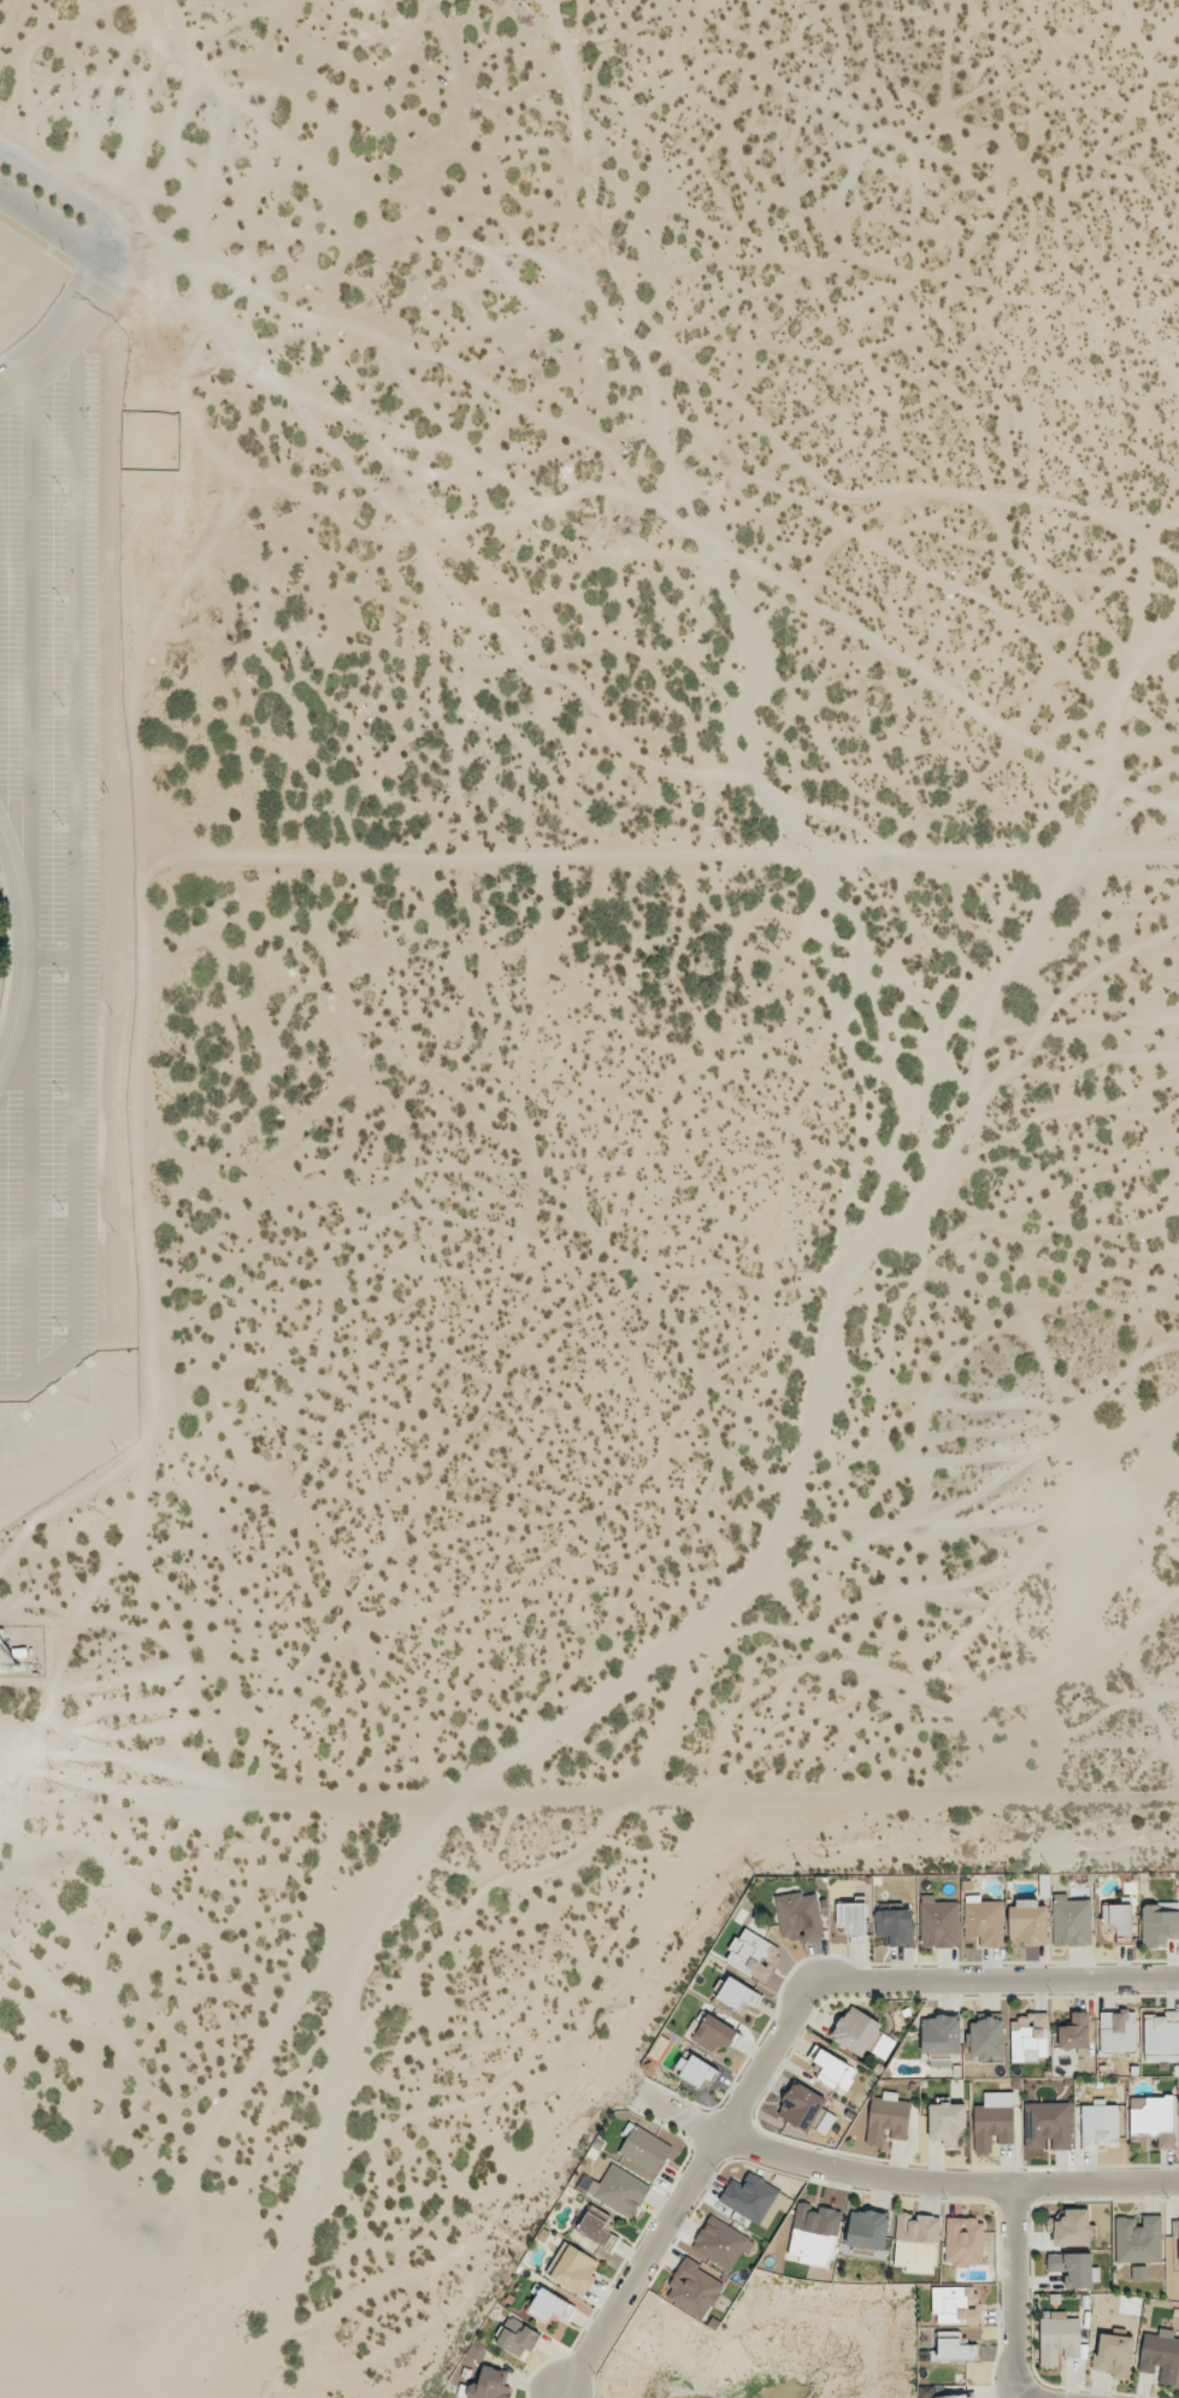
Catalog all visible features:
road: (107, 226)
road: (67, 324)
road: (29, 632)
parking lot: (51, 877)
road: (73, 882)
road: (22, 944)
road: (47, 956)
road: (29, 1200)
building: (798, 1916)
building: (1118, 1917)
building: (851, 1920)
building: (983, 1921)
building: (1027, 1921)
building: (1071, 1921)
building: (938, 1922)
building: (894, 1926)
building: (1159, 1926)
building: (753, 1954)
building: (737, 1996)
road: (783, 2031)
building: (855, 2031)
building: (1118, 2031)
building: (1074, 2032)
building: (714, 2033)
building: (941, 2034)
building: (1028, 2037)
building: (1161, 2037)
building: (986, 2038)
building: (883, 2046)
building: (695, 2069)
building: (835, 2070)
building: (801, 2107)
building: (888, 2117)
building: (1154, 2119)
building: (994, 2121)
building: (947, 2123)
building: (1047, 2125)
building: (1100, 2126)
building: (645, 2150)
road: (901, 2180)
building: (617, 2190)
building: (755, 2199)
building: (596, 2227)
building: (1069, 2227)
building: (867, 2229)
building: (1174, 2231)
building: (814, 2233)
building: (916, 2239)
building: (1138, 2239)
building: (963, 2241)
building: (721, 2243)
building: (1074, 2268)
building: (576, 2269)
building: (1138, 2273)
building: (694, 2288)
road: (1014, 2291)
building: (955, 2304)
building: (550, 2306)
building: (517, 2338)
building: (1059, 2338)
building: (954, 2347)
building: (1114, 2355)
building: (1160, 2356)
building: (487, 2385)
building: (956, 2396)

